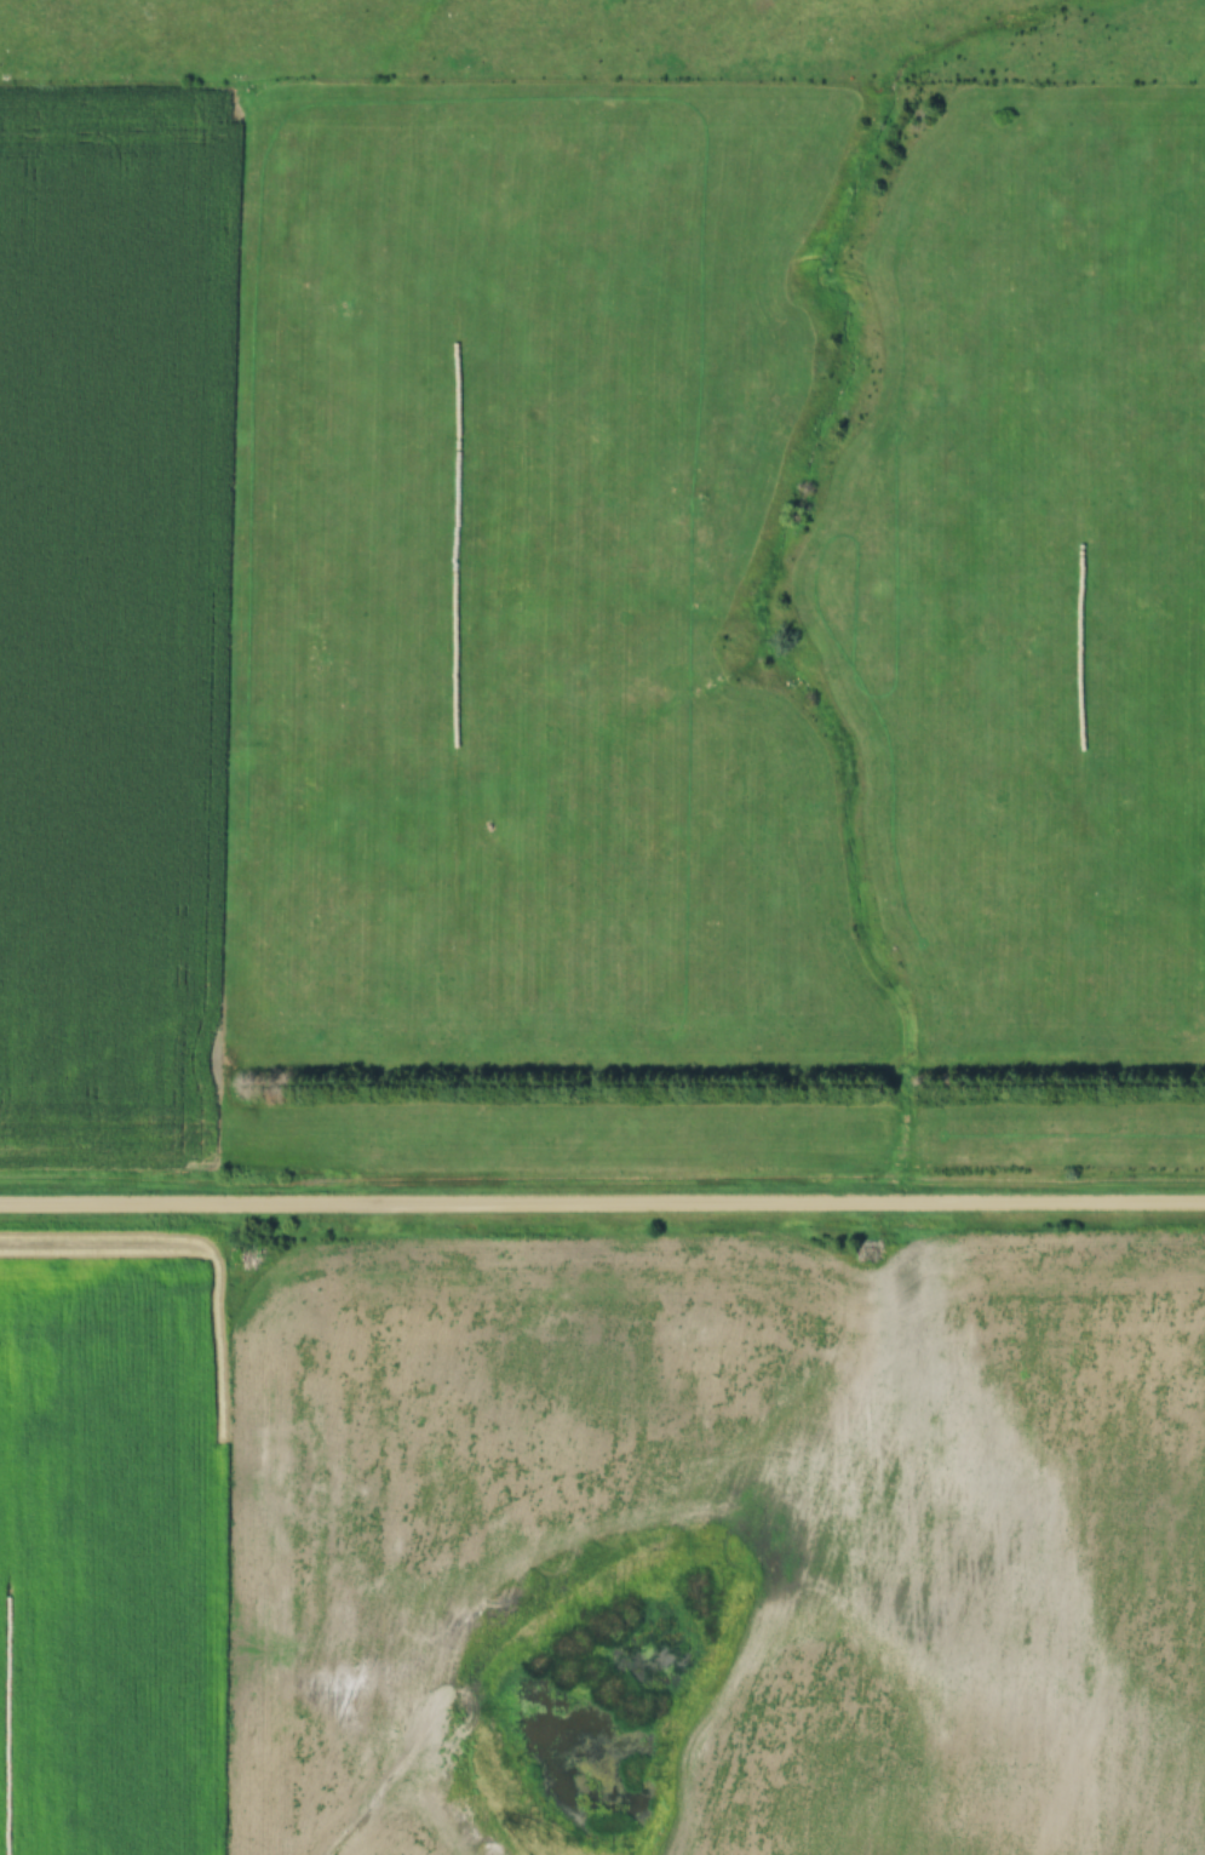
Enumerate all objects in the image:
road: (602, 1202)

